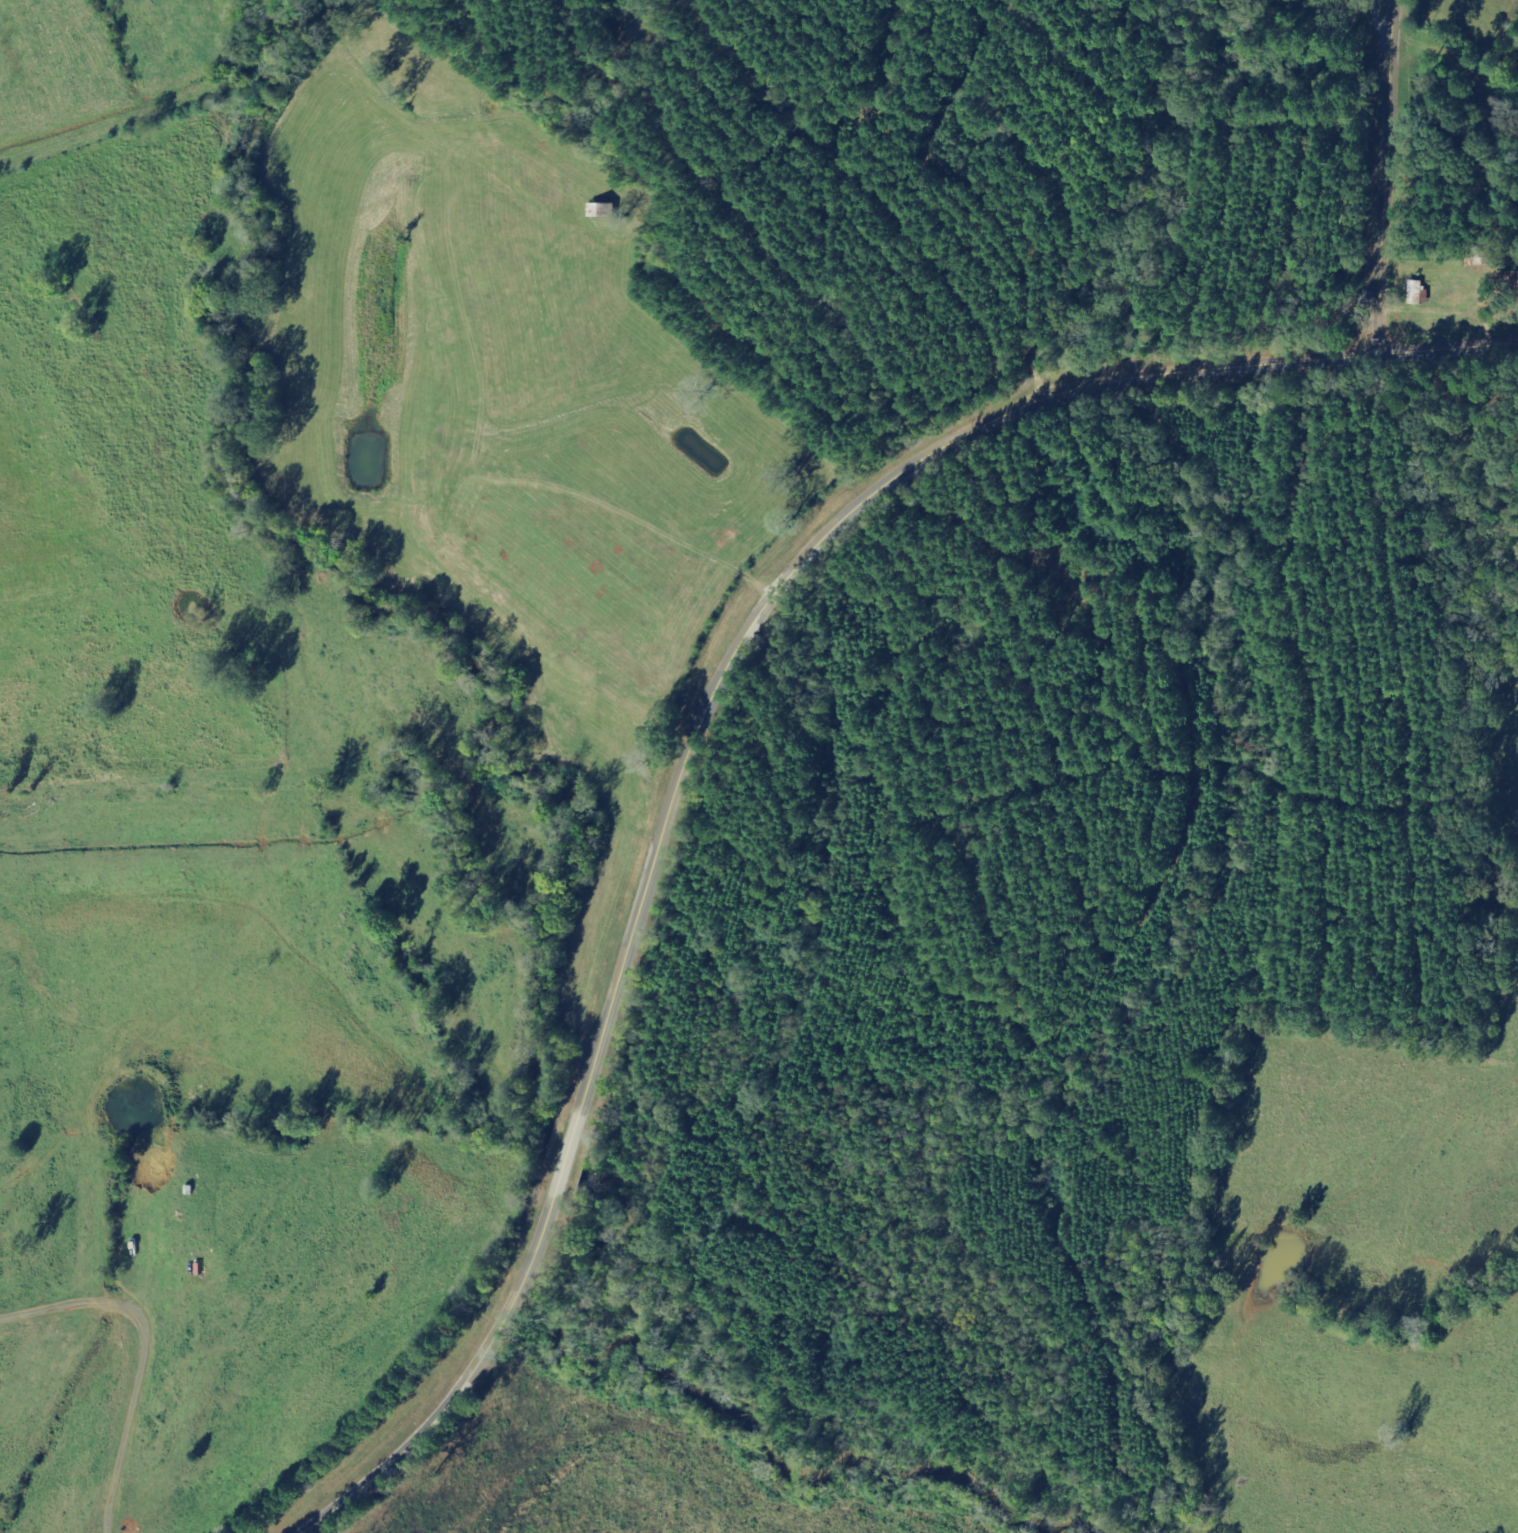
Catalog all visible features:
road: (1382, 177)
building: (600, 211)
building: (1417, 294)
road: (706, 703)

